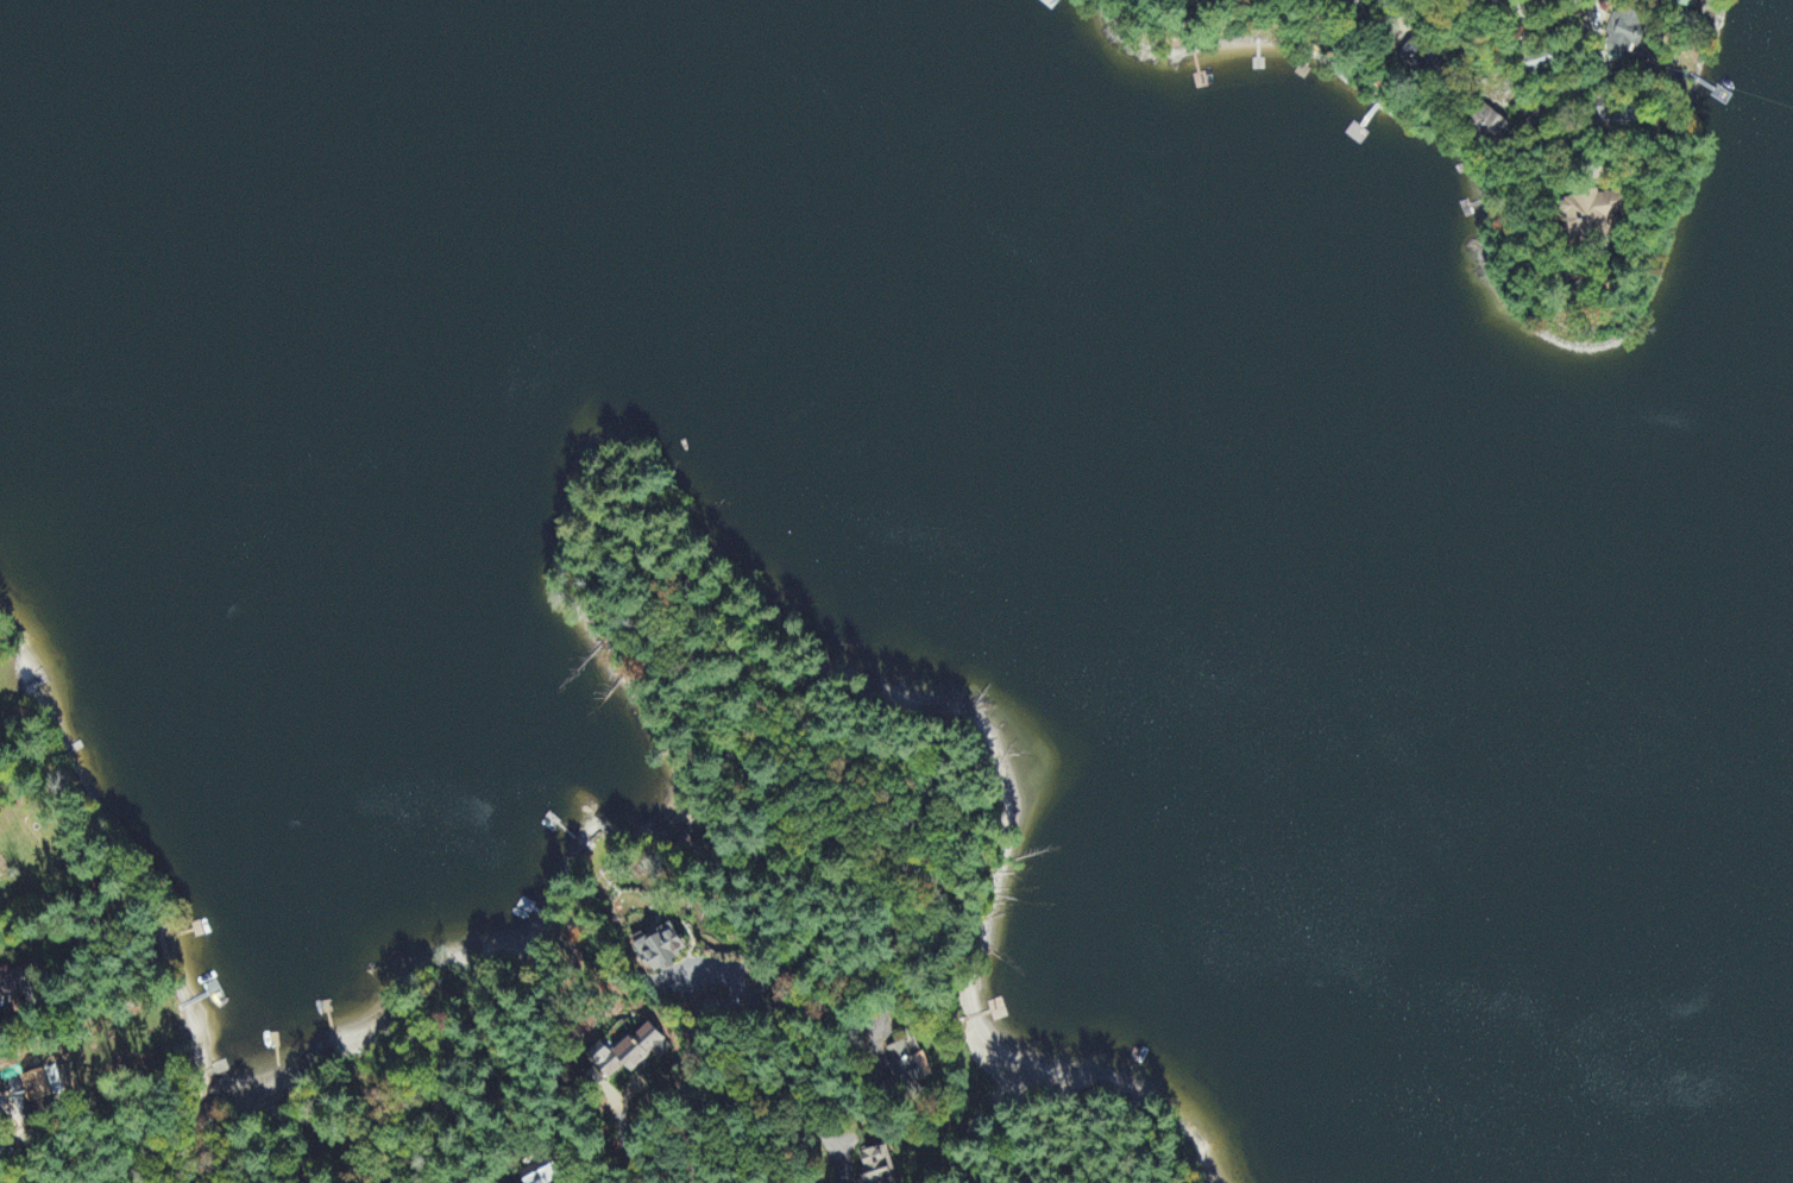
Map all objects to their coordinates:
building: (1191, 0)
building: (1355, 4)
building: (1681, 4)
road: (1512, 8)
road: (1533, 24)
building: (1624, 33)
building: (1416, 56)
road: (1593, 81)
building: (1489, 124)
building: (1597, 212)
river: (1380, 428)
building: (662, 948)
building: (19, 984)
road: (4, 1000)
road: (704, 1024)
road: (867, 1032)
building: (631, 1052)
building: (908, 1065)
building: (38, 1087)
road: (39, 1143)
building: (879, 1166)
building: (542, 1175)

